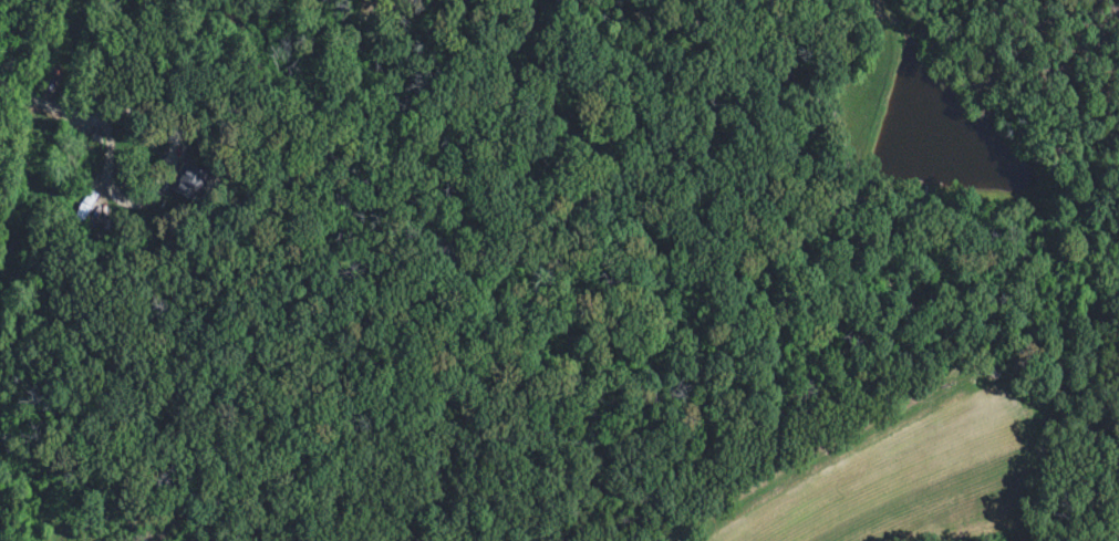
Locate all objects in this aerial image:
road: (48, 108)
road: (159, 183)
building: (188, 183)
building: (81, 212)

